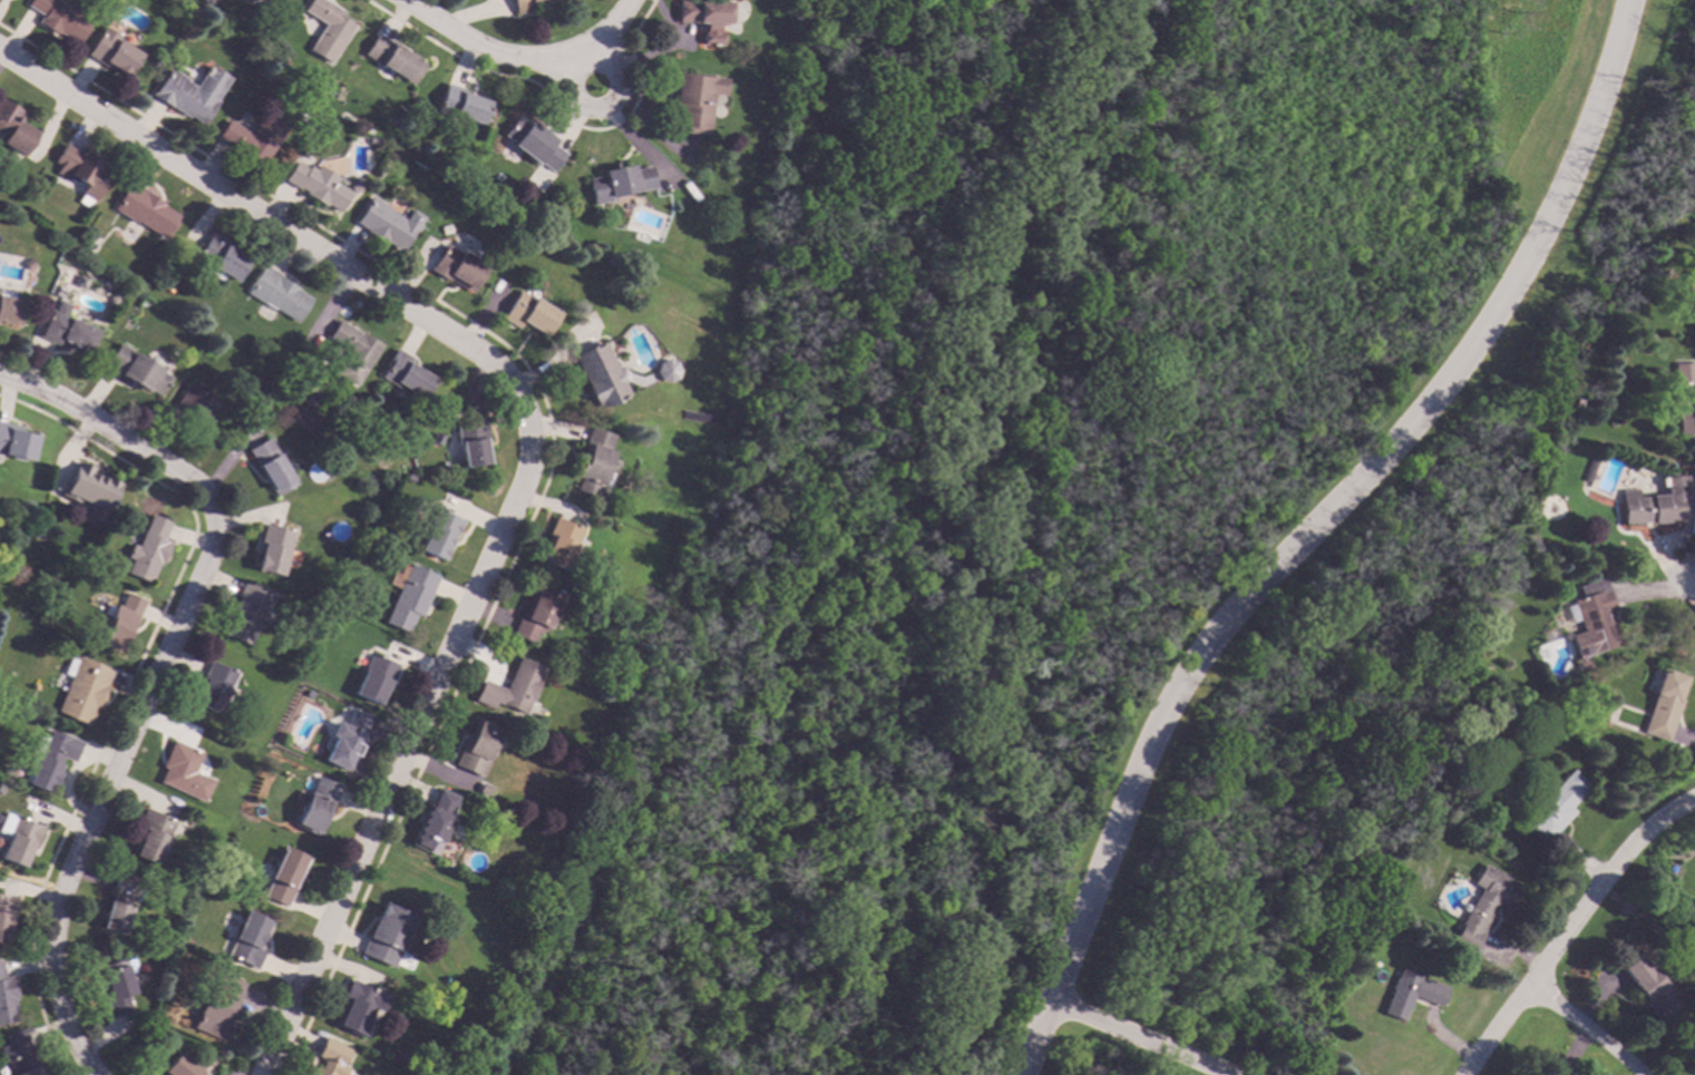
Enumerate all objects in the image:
building: (281, 1)
building: (523, 4)
building: (702, 18)
building: (59, 19)
building: (327, 29)
building: (113, 53)
road: (522, 58)
building: (392, 59)
road: (583, 61)
building: (192, 94)
road: (574, 100)
building: (692, 104)
building: (458, 105)
building: (301, 118)
building: (13, 129)
building: (254, 137)
building: (372, 141)
building: (532, 144)
building: (81, 173)
building: (616, 183)
building: (319, 186)
building: (145, 209)
building: (383, 225)
building: (444, 229)
building: (220, 258)
building: (28, 264)
building: (456, 268)
building: (79, 282)
building: (1688, 284)
building: (60, 292)
building: (276, 294)
building: (114, 300)
building: (632, 303)
building: (10, 307)
building: (527, 314)
building: (1692, 316)
building: (67, 329)
building: (352, 352)
building: (137, 370)
building: (664, 371)
building: (403, 375)
building: (597, 377)
building: (1682, 398)
building: (198, 410)
building: (696, 418)
building: (16, 441)
building: (469, 442)
road: (527, 450)
building: (592, 463)
building: (270, 467)
building: (1594, 471)
building: (90, 491)
building: (1649, 508)
road: (1311, 530)
park: (1099, 532)
building: (437, 534)
building: (557, 544)
river: (947, 545)
building: (147, 550)
building: (272, 550)
road: (1692, 583)
building: (409, 598)
building: (107, 608)
building: (246, 613)
building: (535, 613)
building: (120, 622)
building: (1591, 622)
road: (167, 648)
building: (374, 680)
building: (213, 687)
building: (510, 688)
building: (82, 690)
building: (1663, 705)
building: (345, 741)
building: (477, 749)
building: (49, 760)
building: (183, 772)
building: (315, 805)
building: (1553, 807)
building: (434, 823)
building: (150, 835)
building: (18, 839)
building: (285, 877)
building: (118, 903)
building: (1483, 907)
building: (6, 918)
road: (1569, 927)
building: (387, 936)
building: (249, 939)
building: (117, 985)
building: (1647, 987)
building: (1411, 994)
building: (7, 999)
building: (217, 1007)
building: (357, 1007)
road: (1584, 1028)
road: (1137, 1038)
road: (82, 1052)
building: (330, 1058)
building: (22, 1064)
building: (179, 1066)
building: (1553, 1071)

